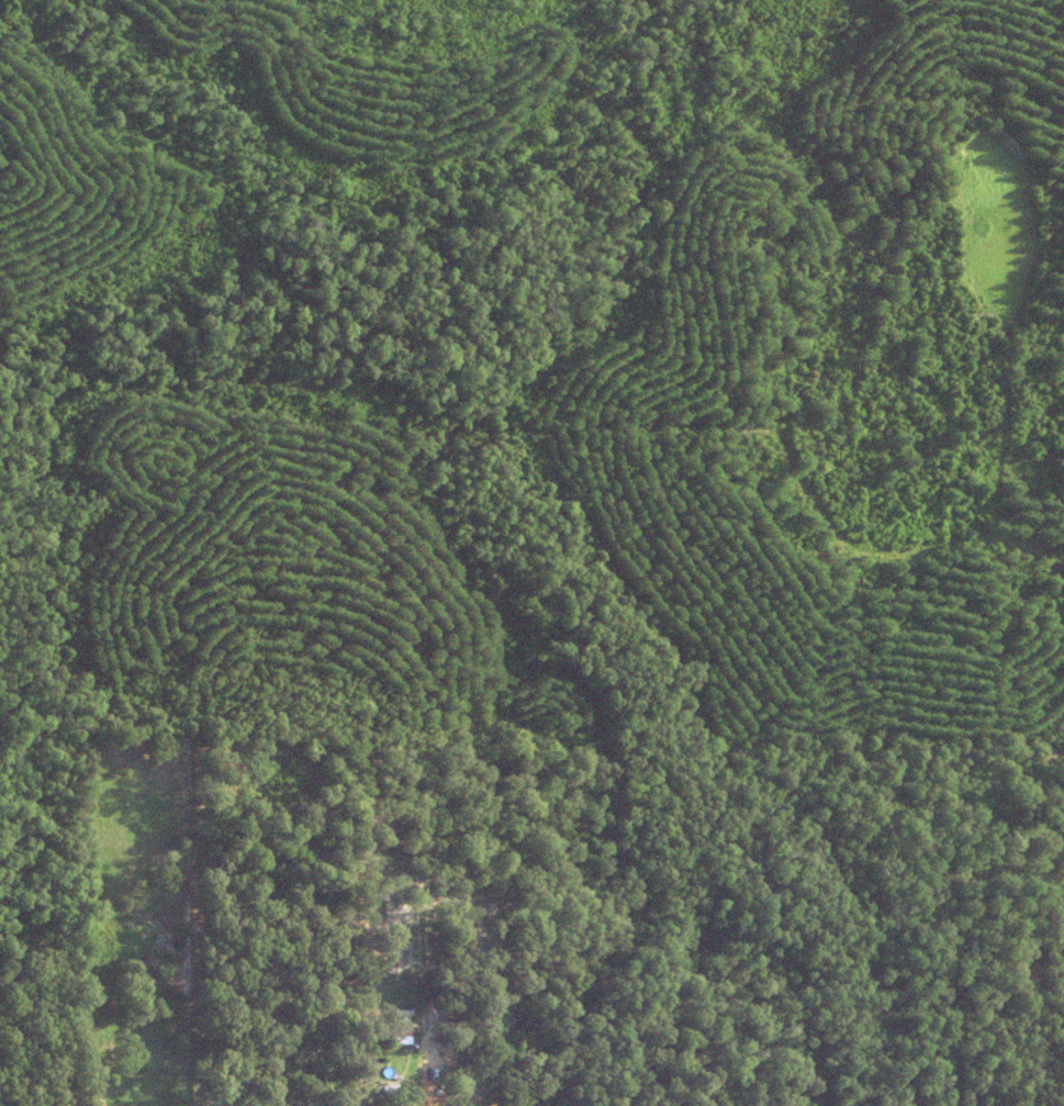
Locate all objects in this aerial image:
building: (438, 1014)
building: (394, 1031)
building: (369, 1047)

